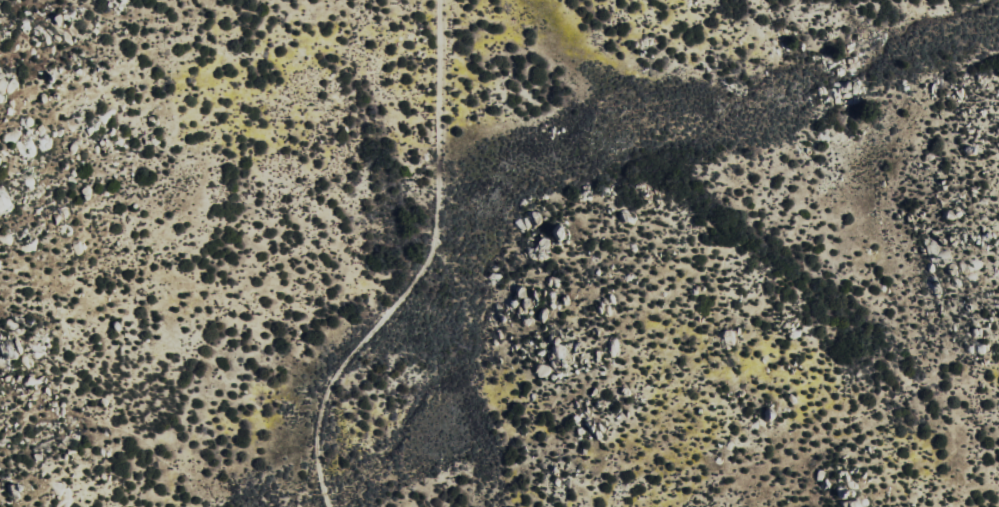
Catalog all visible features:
building: (555, 232)

